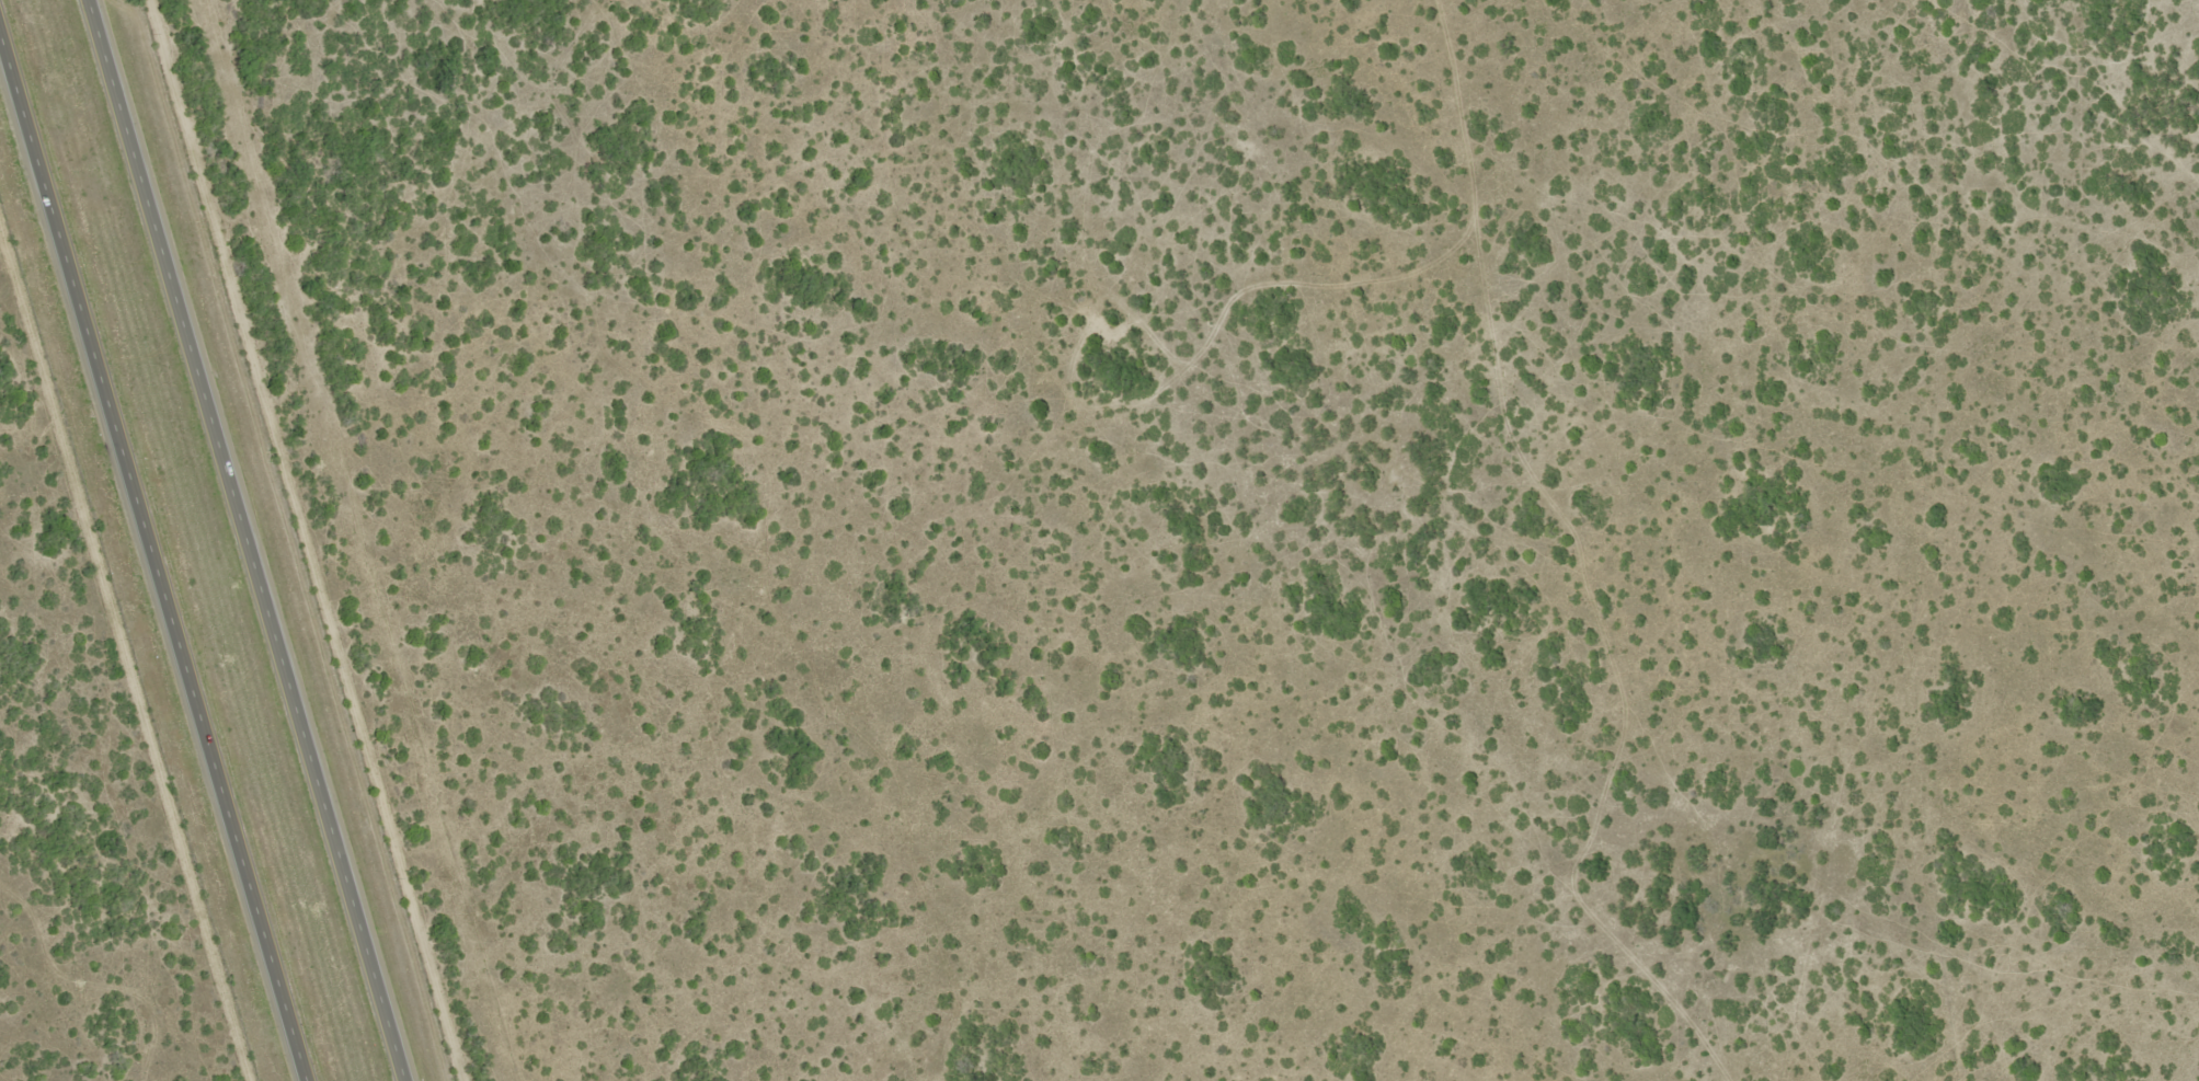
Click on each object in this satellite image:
road: (252, 540)
road: (154, 549)

